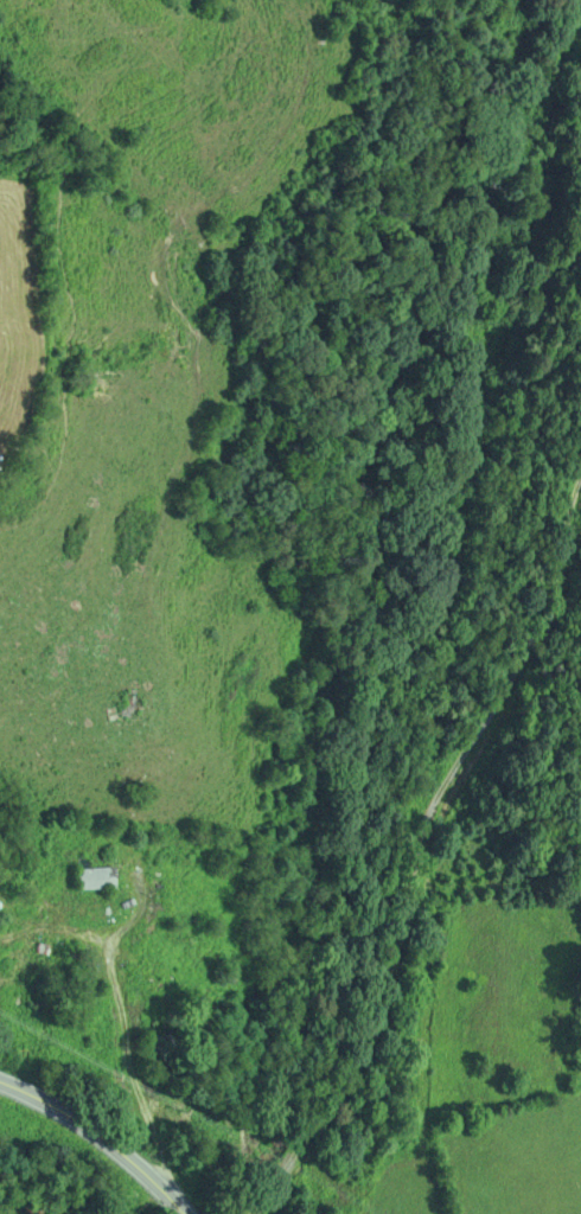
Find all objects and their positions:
building: (100, 878)
road: (98, 1136)

